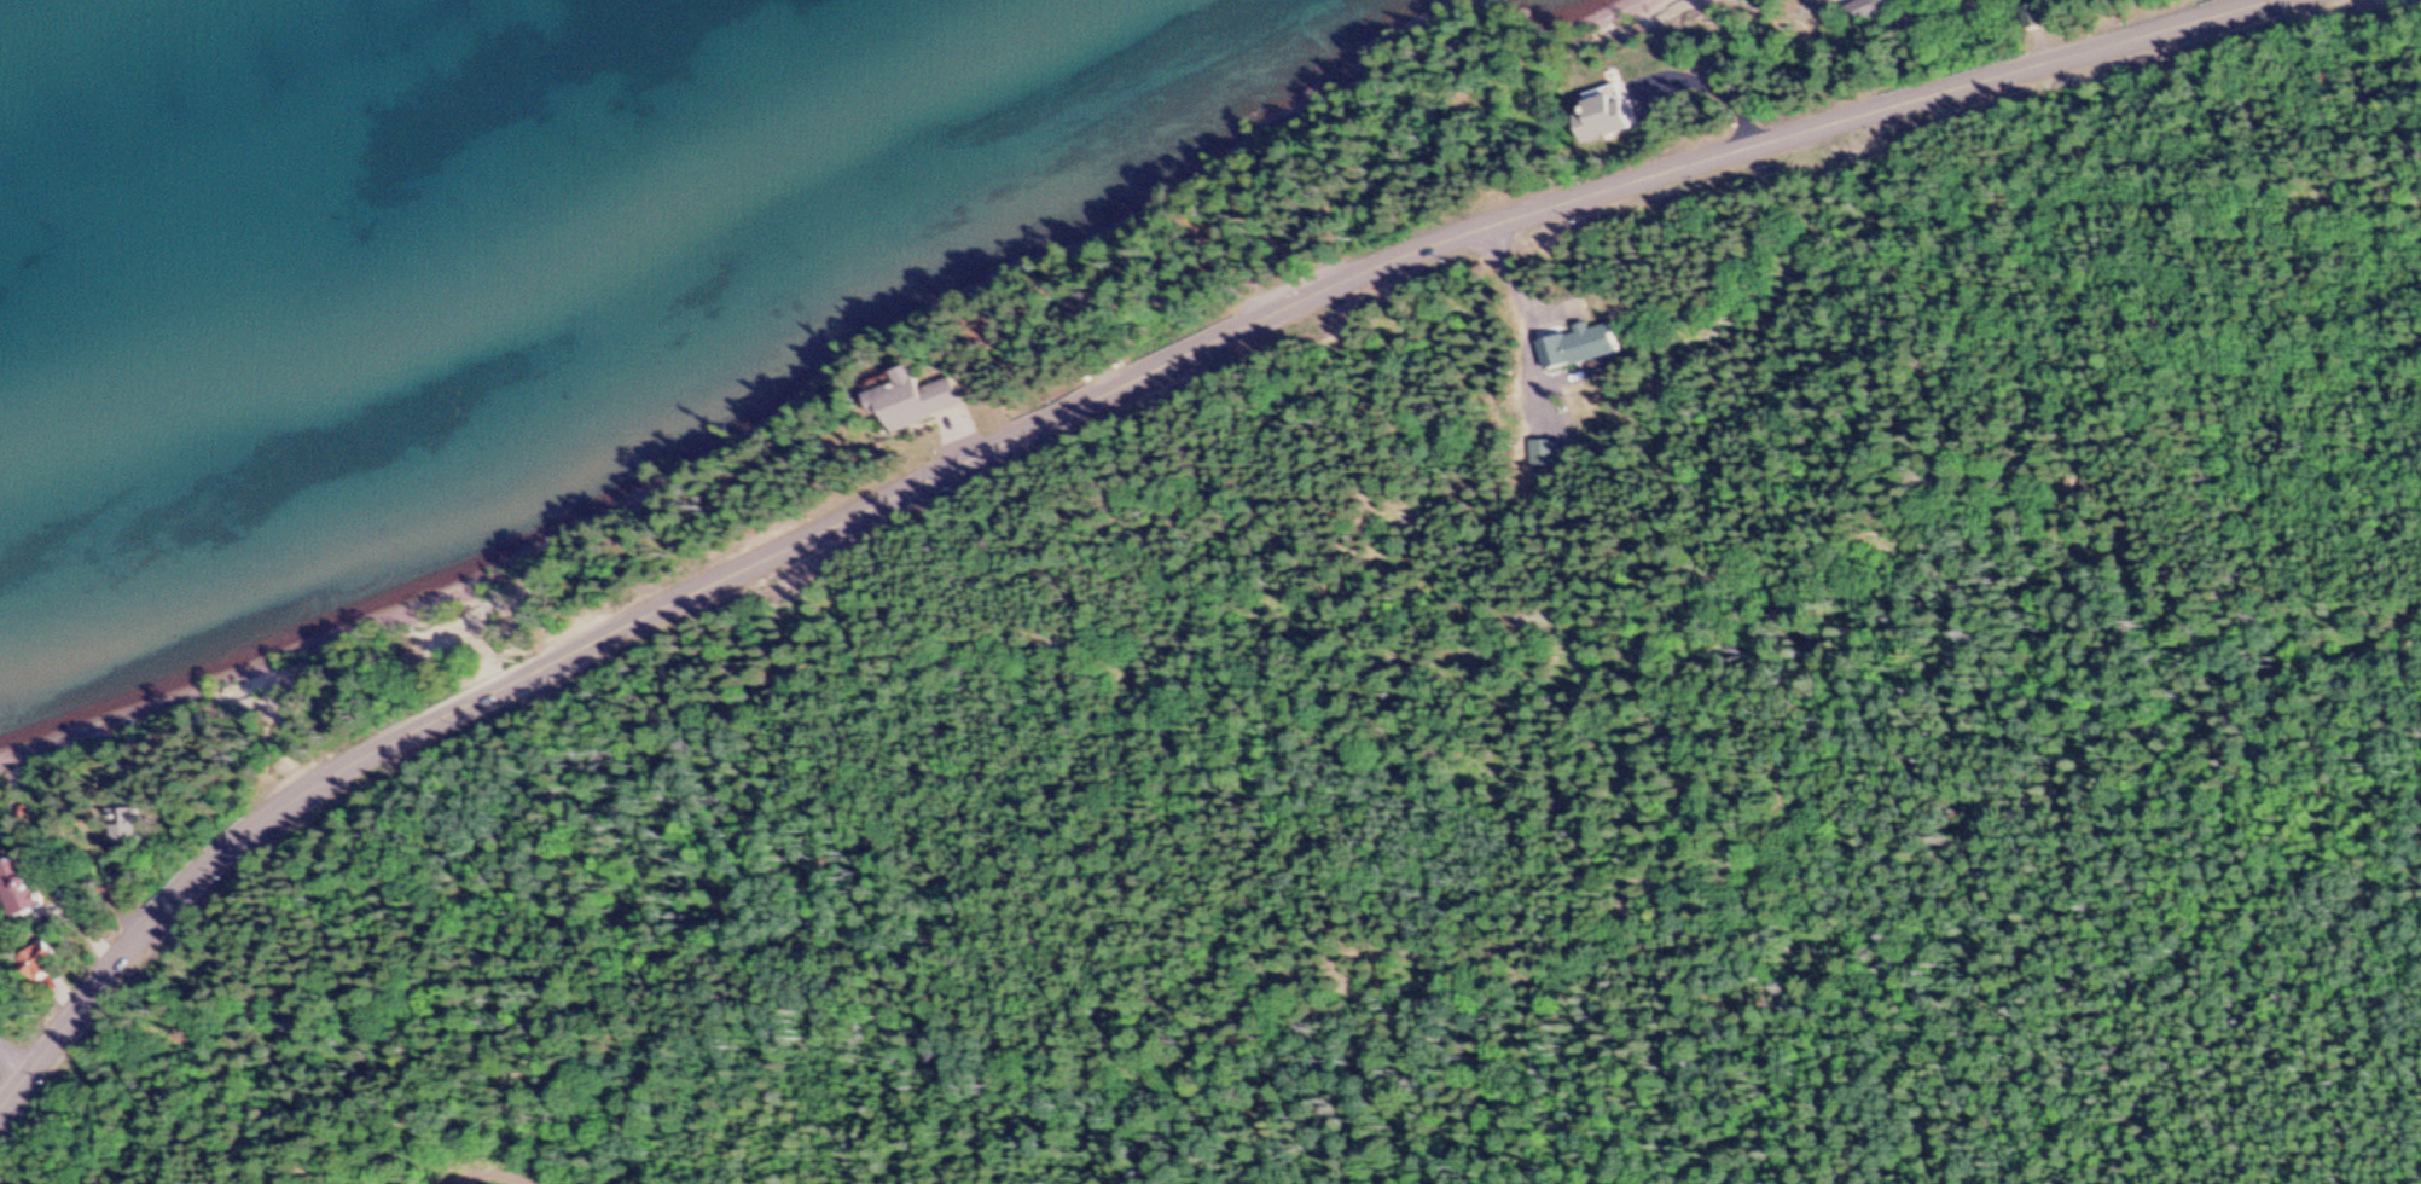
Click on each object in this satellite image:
building: (1864, 13)
building: (1604, 123)
road: (1428, 130)
building: (1593, 344)
building: (915, 402)
road: (1055, 414)
building: (22, 889)

